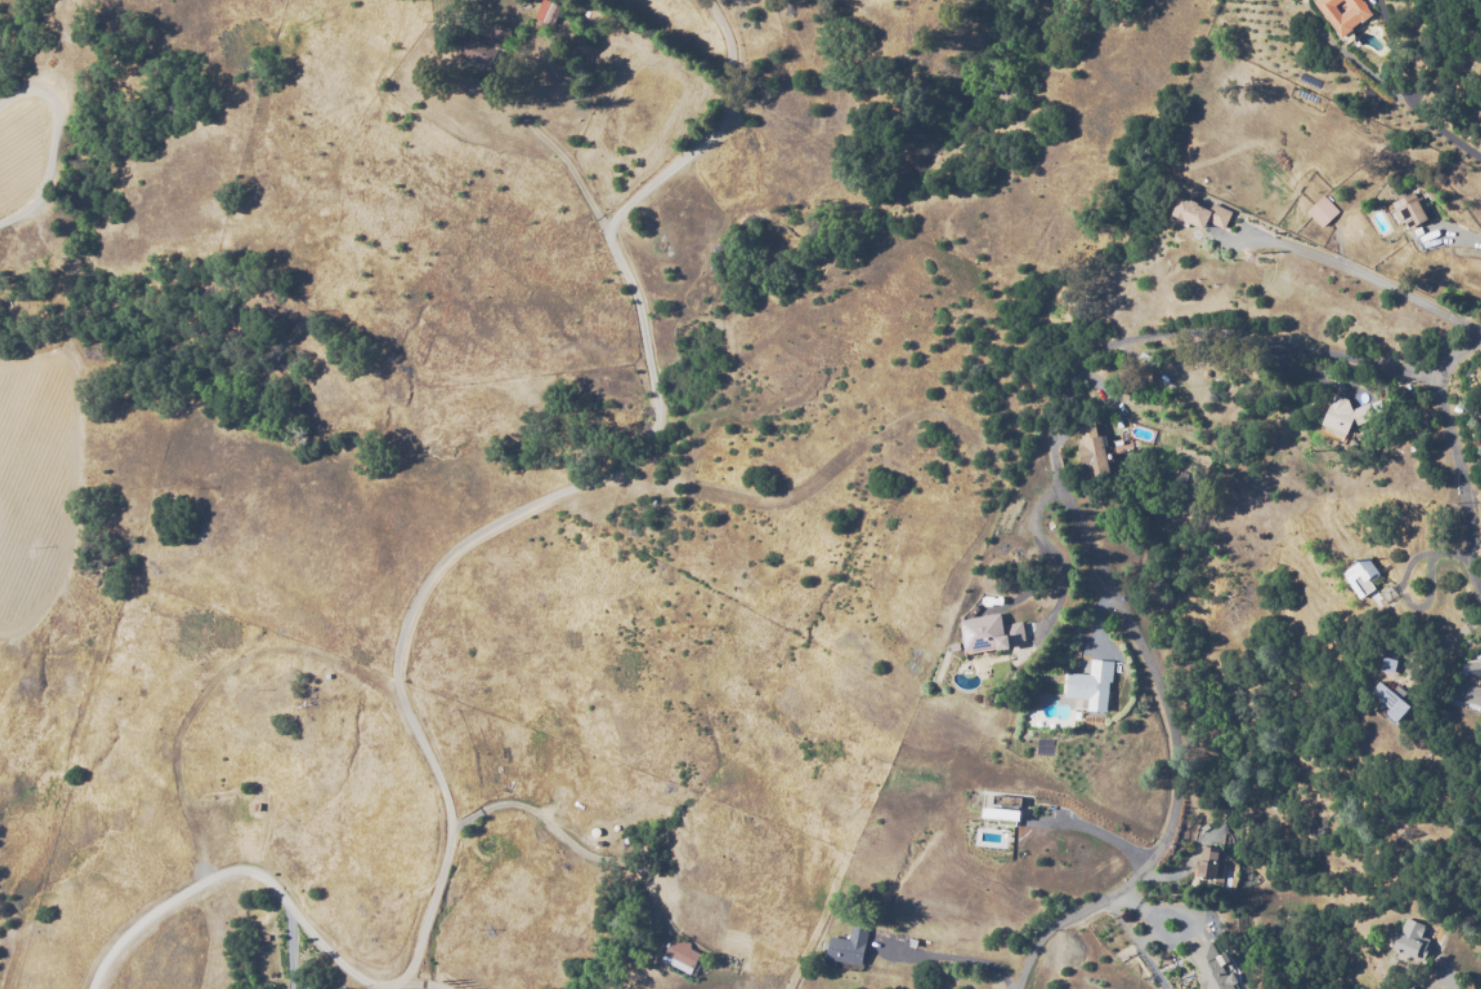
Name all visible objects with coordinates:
building: (548, 11)
building: (1345, 15)
building: (484, 47)
road: (1400, 95)
building: (1323, 211)
building: (1411, 211)
building: (1200, 214)
road: (1356, 270)
building: (1348, 415)
building: (1092, 449)
road: (1463, 477)
road: (1063, 496)
building: (1361, 577)
road: (414, 602)
building: (993, 637)
building: (953, 646)
building: (1391, 668)
building: (1473, 668)
building: (1091, 687)
building: (1468, 694)
building: (1393, 706)
building: (1037, 781)
building: (1042, 783)
building: (1007, 813)
building: (1209, 862)
building: (1412, 940)
building: (849, 946)
building: (681, 957)
building: (1211, 968)
road: (426, 982)
building: (1410, 987)

